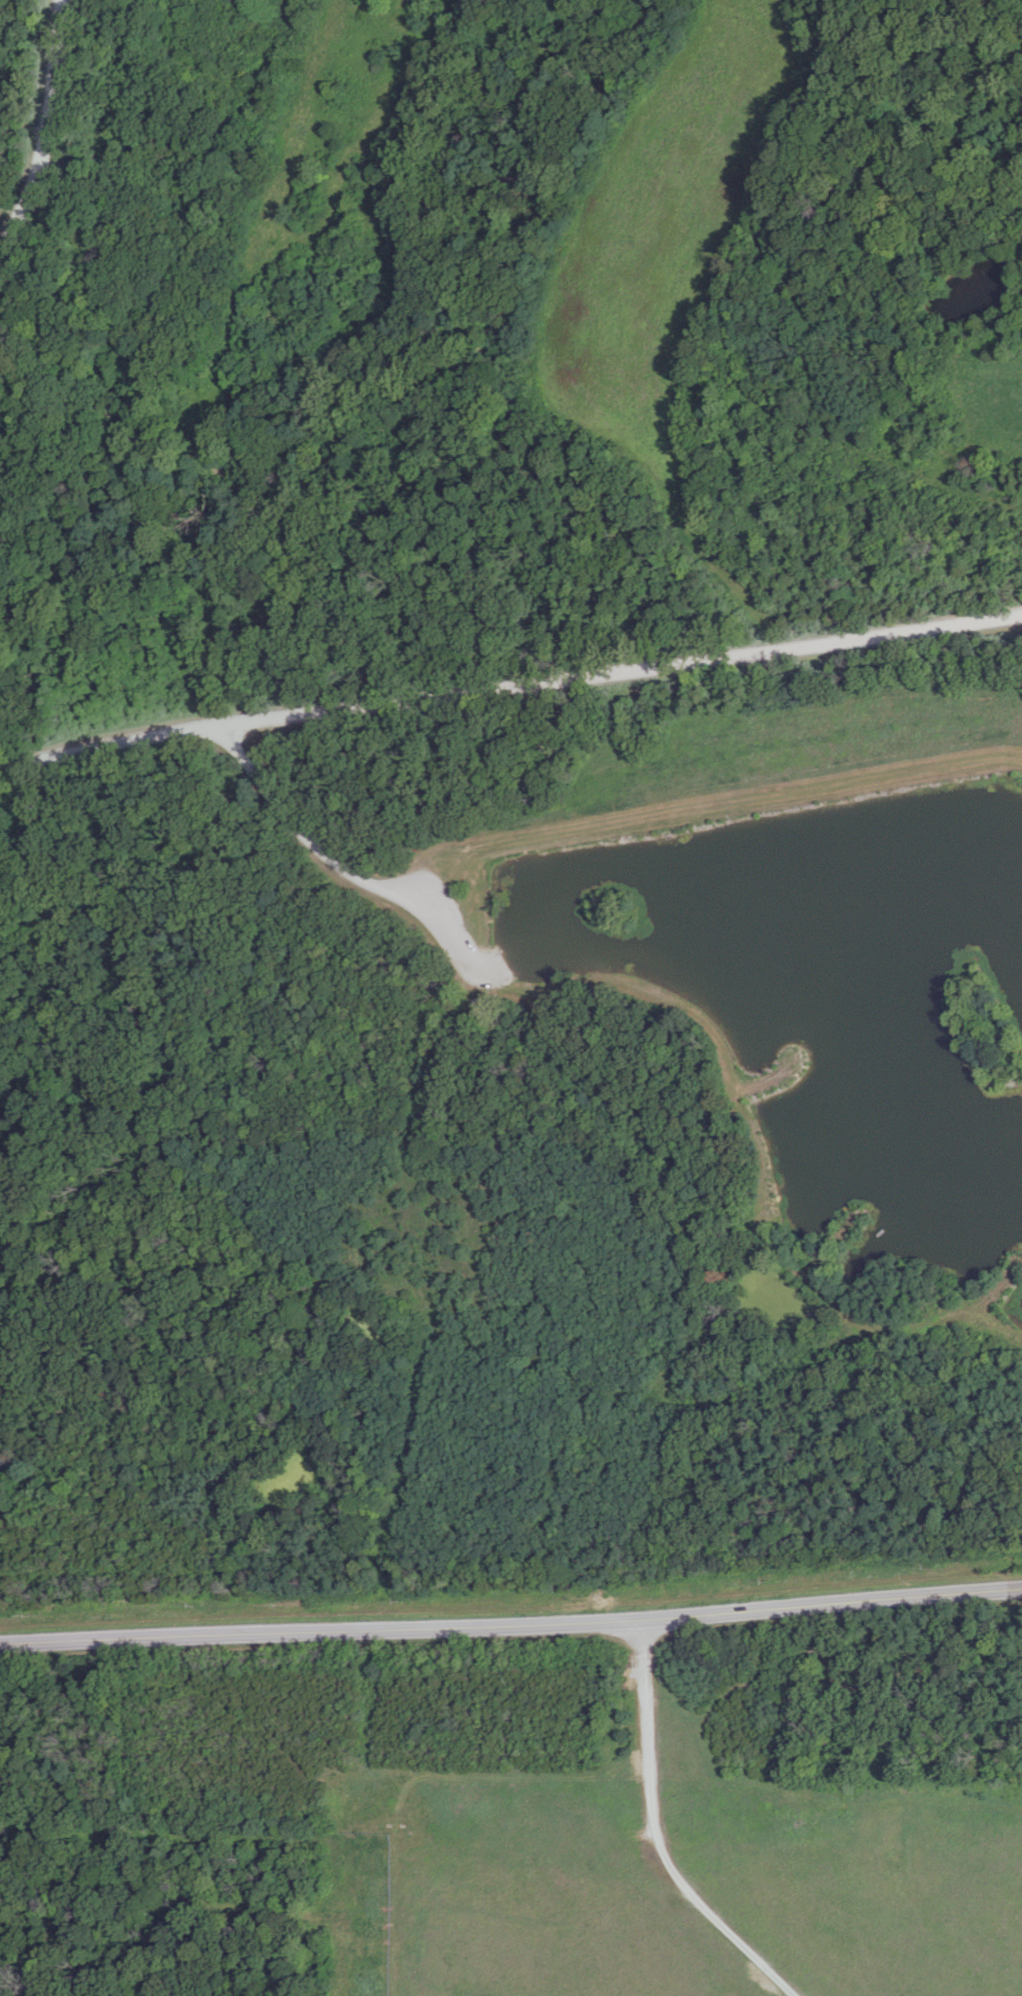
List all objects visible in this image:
road: (50, 127)
road: (510, 684)
dam: (735, 821)
road: (335, 864)
parking lot: (469, 966)
road: (176, 1127)
road: (511, 1624)
road: (654, 1834)
park: (690, 1882)
road: (205, 1902)

